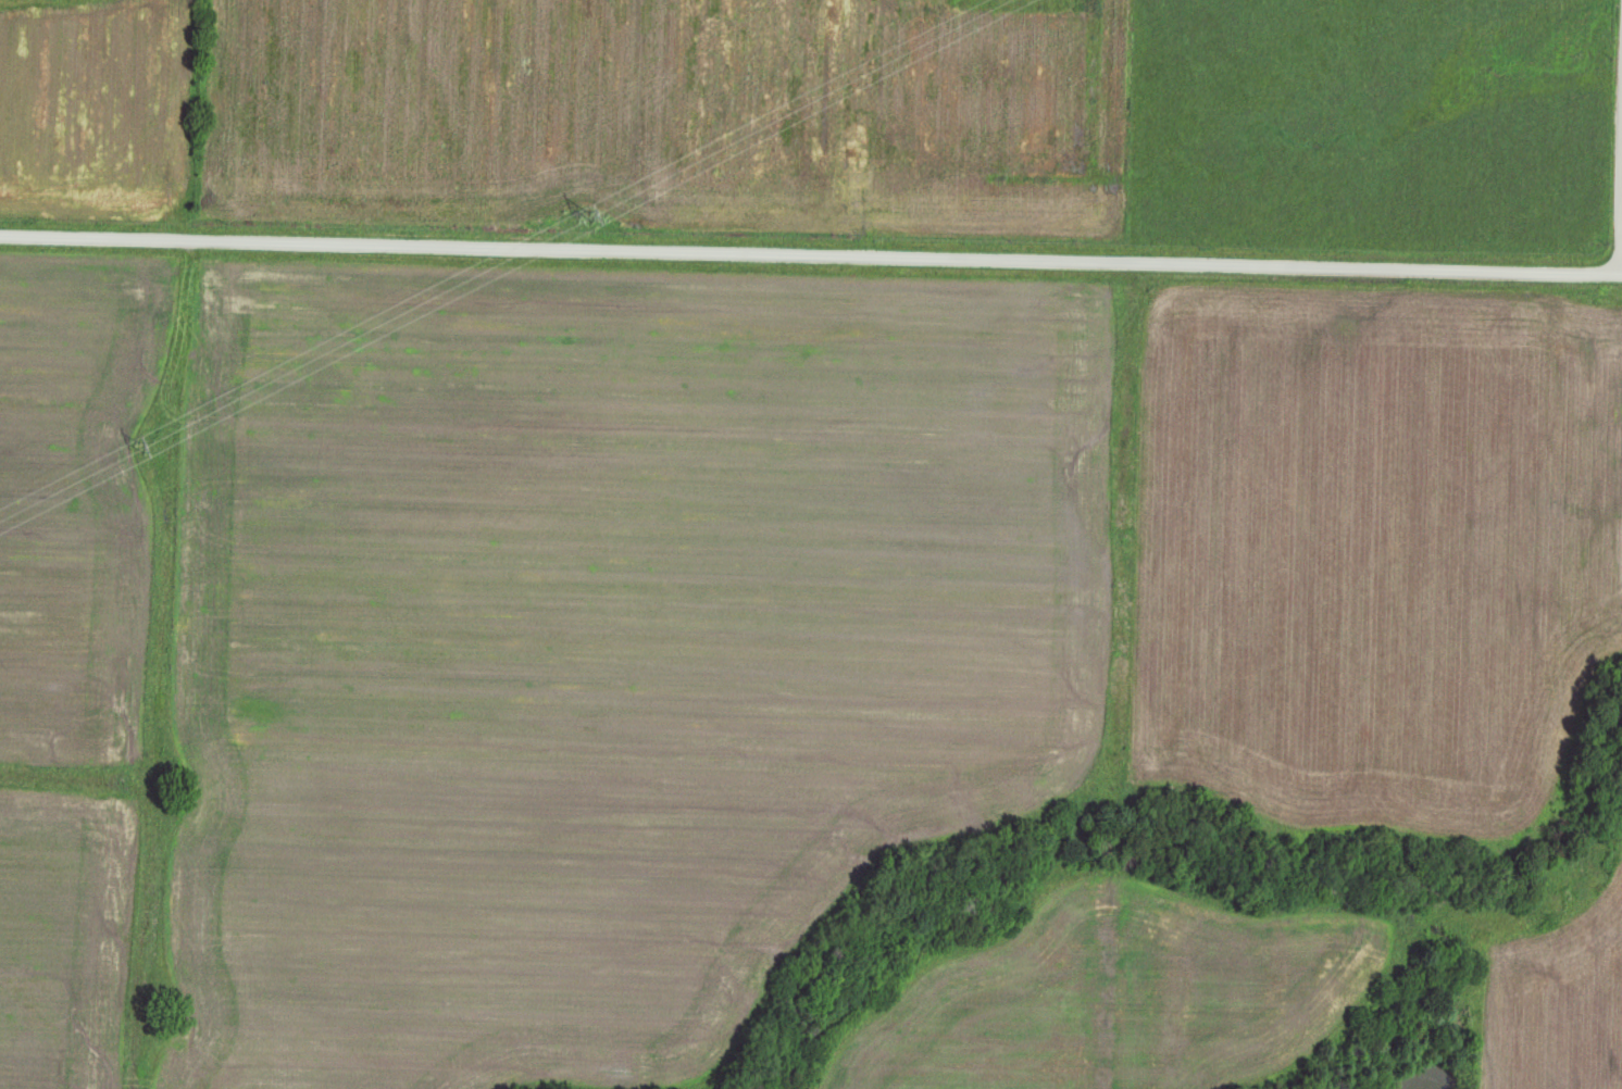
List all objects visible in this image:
road: (1600, 134)
power tower: (589, 225)
road: (811, 250)
power tower: (141, 453)

